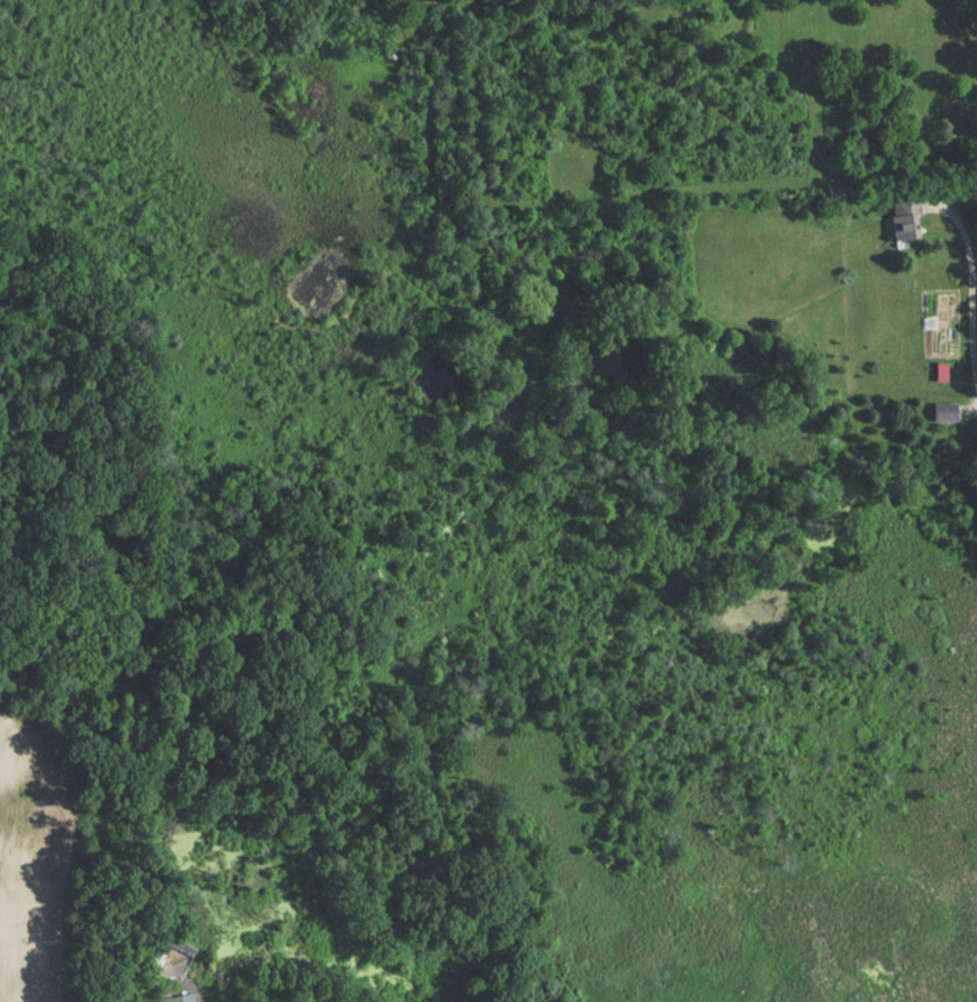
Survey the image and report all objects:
building: (902, 220)
road: (972, 291)
building: (942, 413)
building: (163, 1000)

